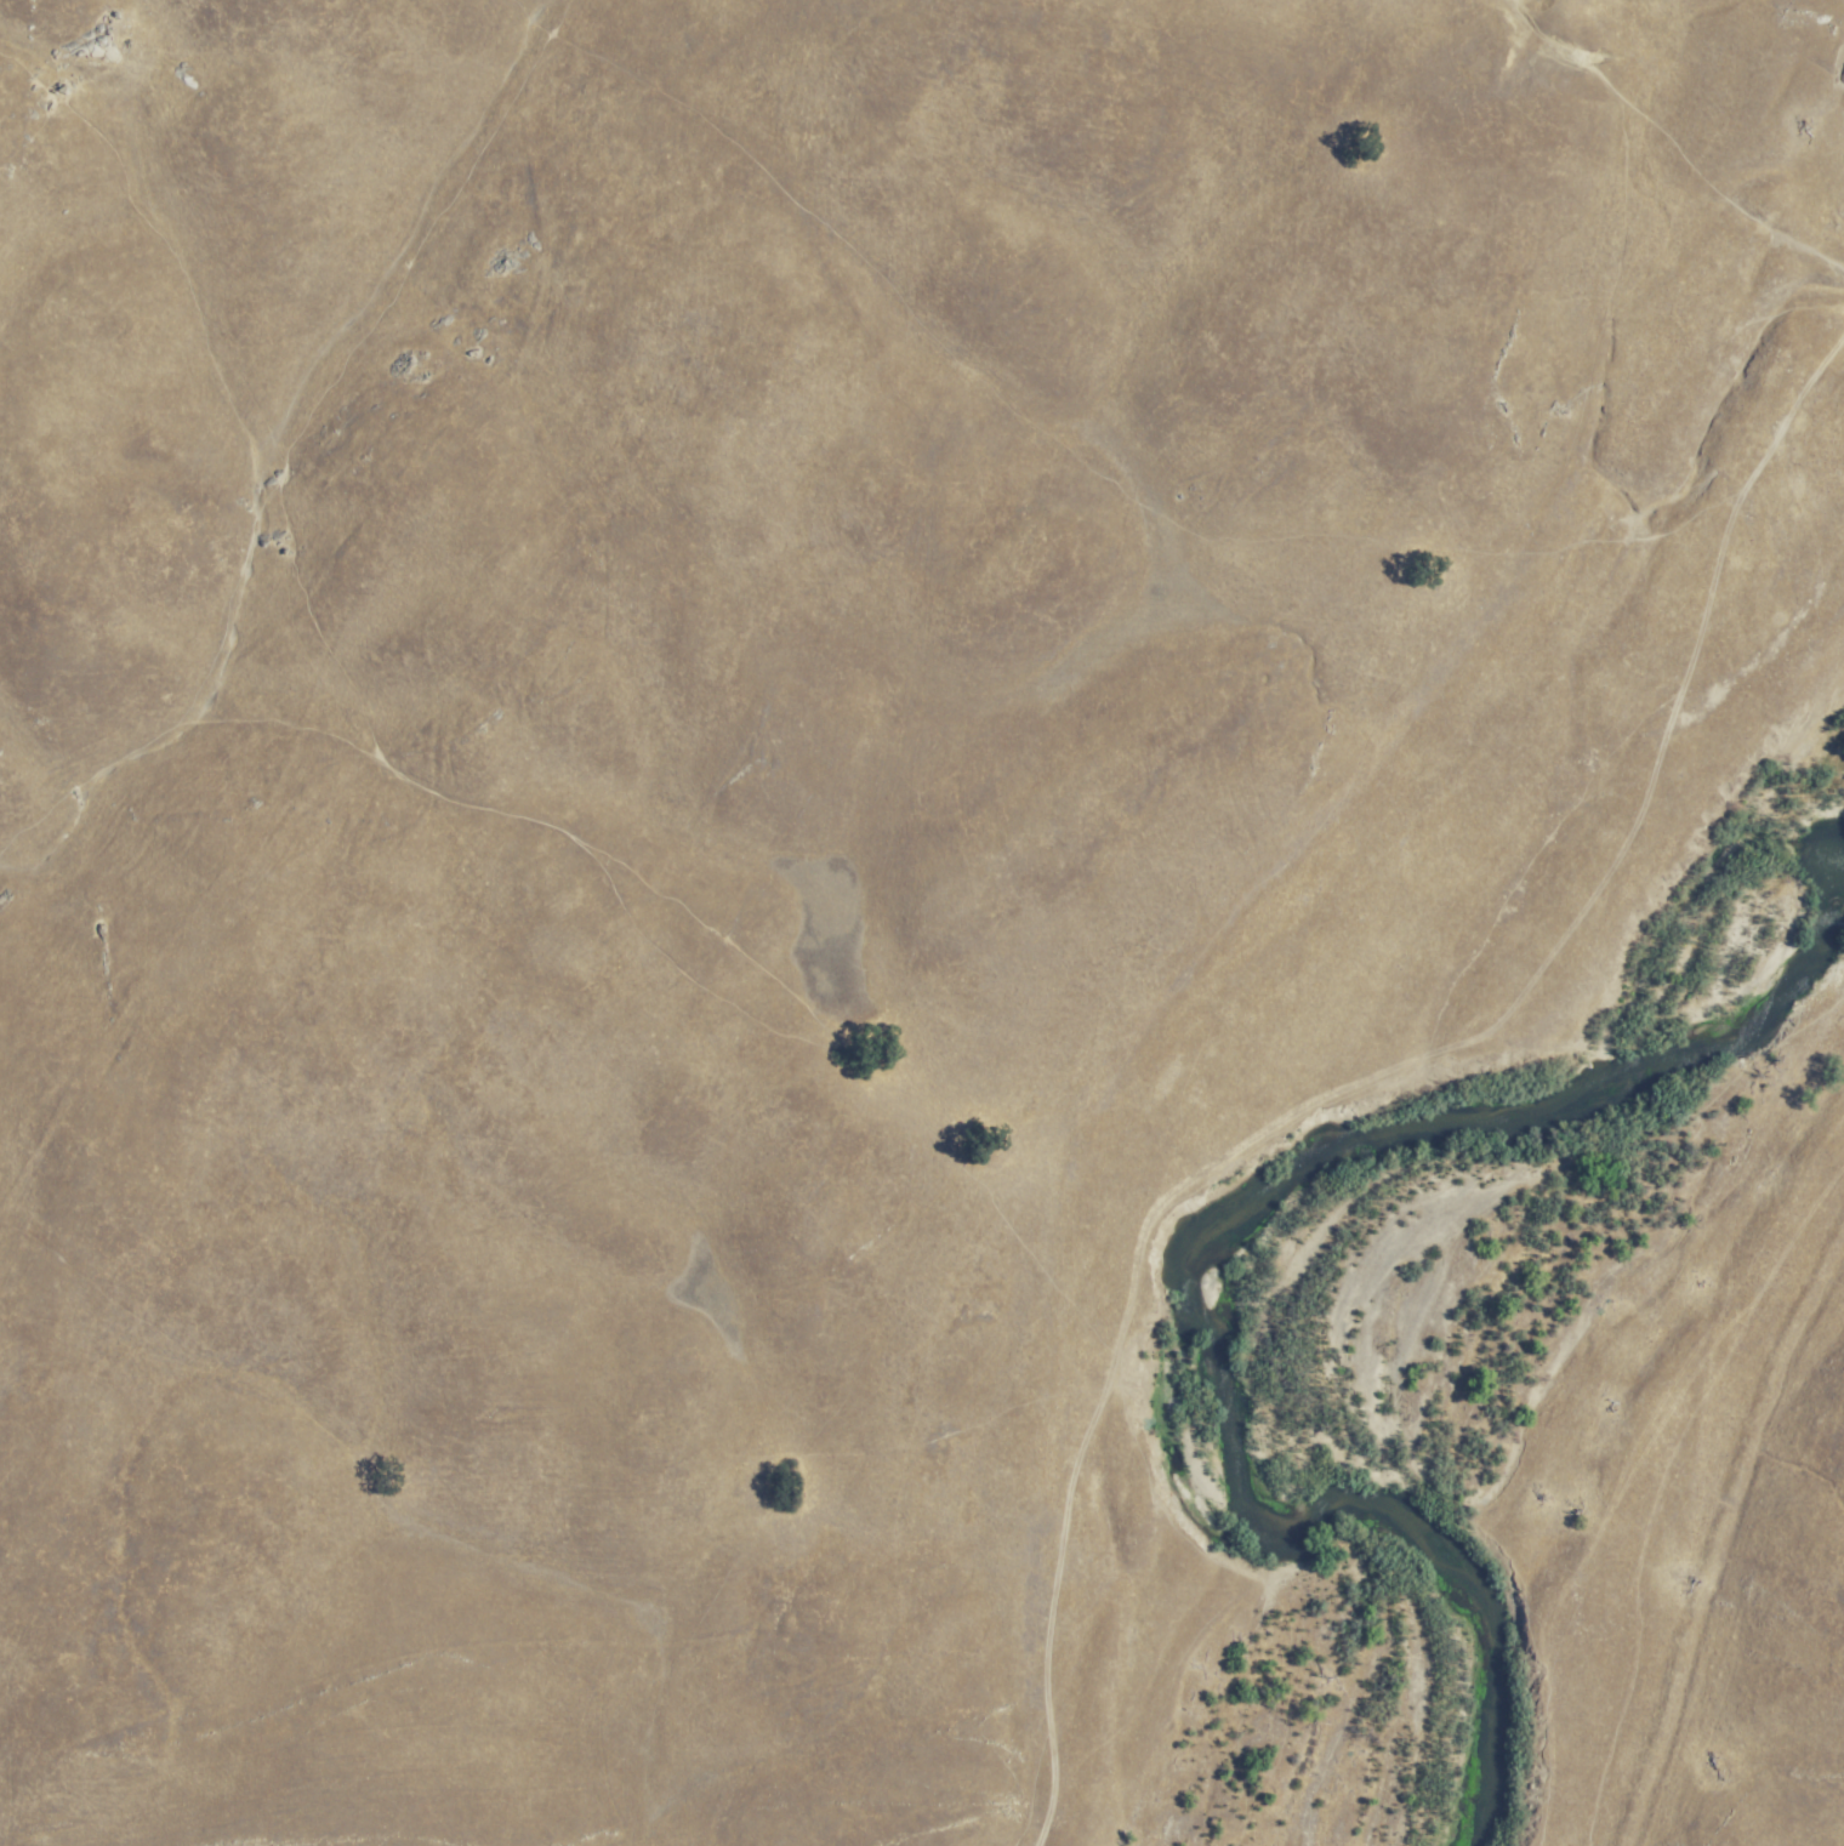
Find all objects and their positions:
river: (1282, 1258)

